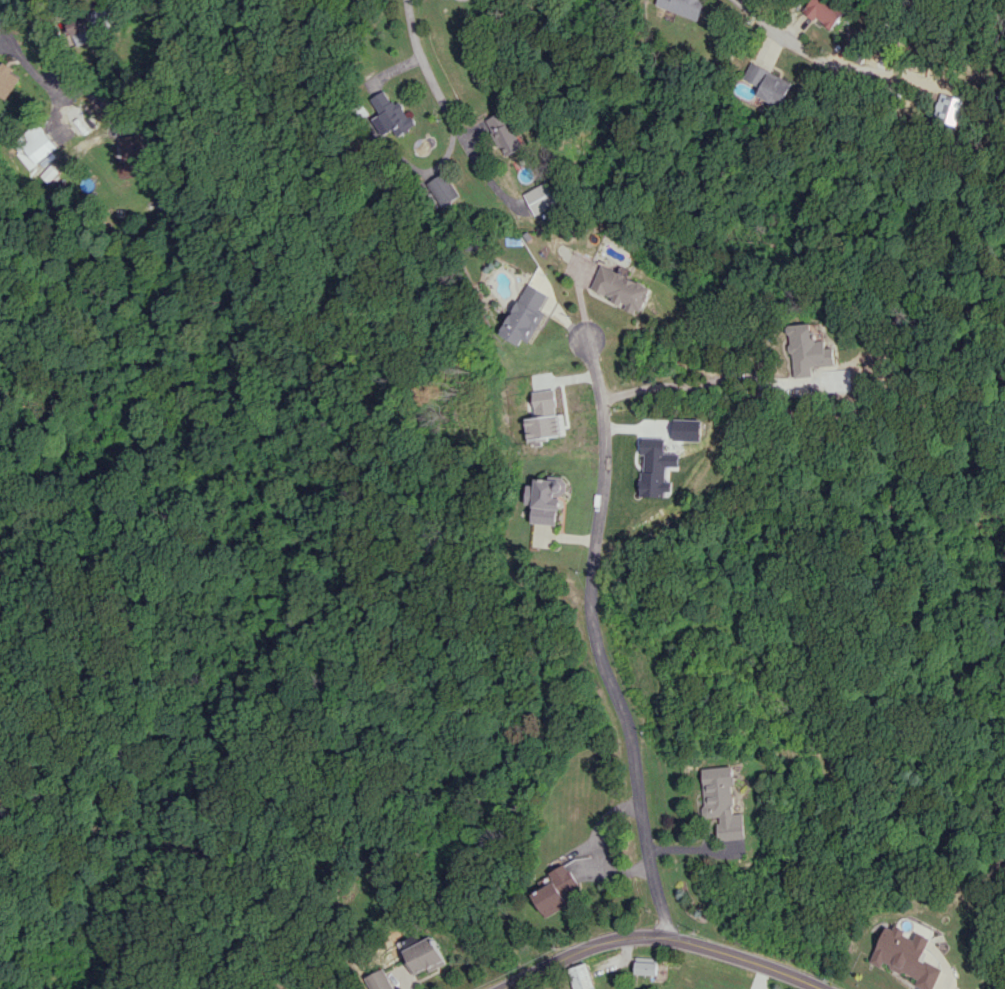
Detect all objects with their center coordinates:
building: (682, 6)
building: (826, 11)
building: (76, 29)
road: (837, 64)
road: (32, 71)
road: (56, 73)
building: (10, 75)
building: (768, 84)
building: (950, 109)
road: (448, 118)
building: (505, 133)
building: (32, 145)
building: (125, 151)
building: (442, 189)
building: (542, 198)
building: (623, 289)
building: (524, 315)
building: (809, 349)
road: (702, 385)
building: (544, 499)
road: (593, 642)
building: (722, 802)
road: (691, 847)
building: (556, 890)
road: (668, 941)
building: (426, 955)
building: (908, 955)
building: (645, 965)
building: (580, 976)
building: (379, 980)

